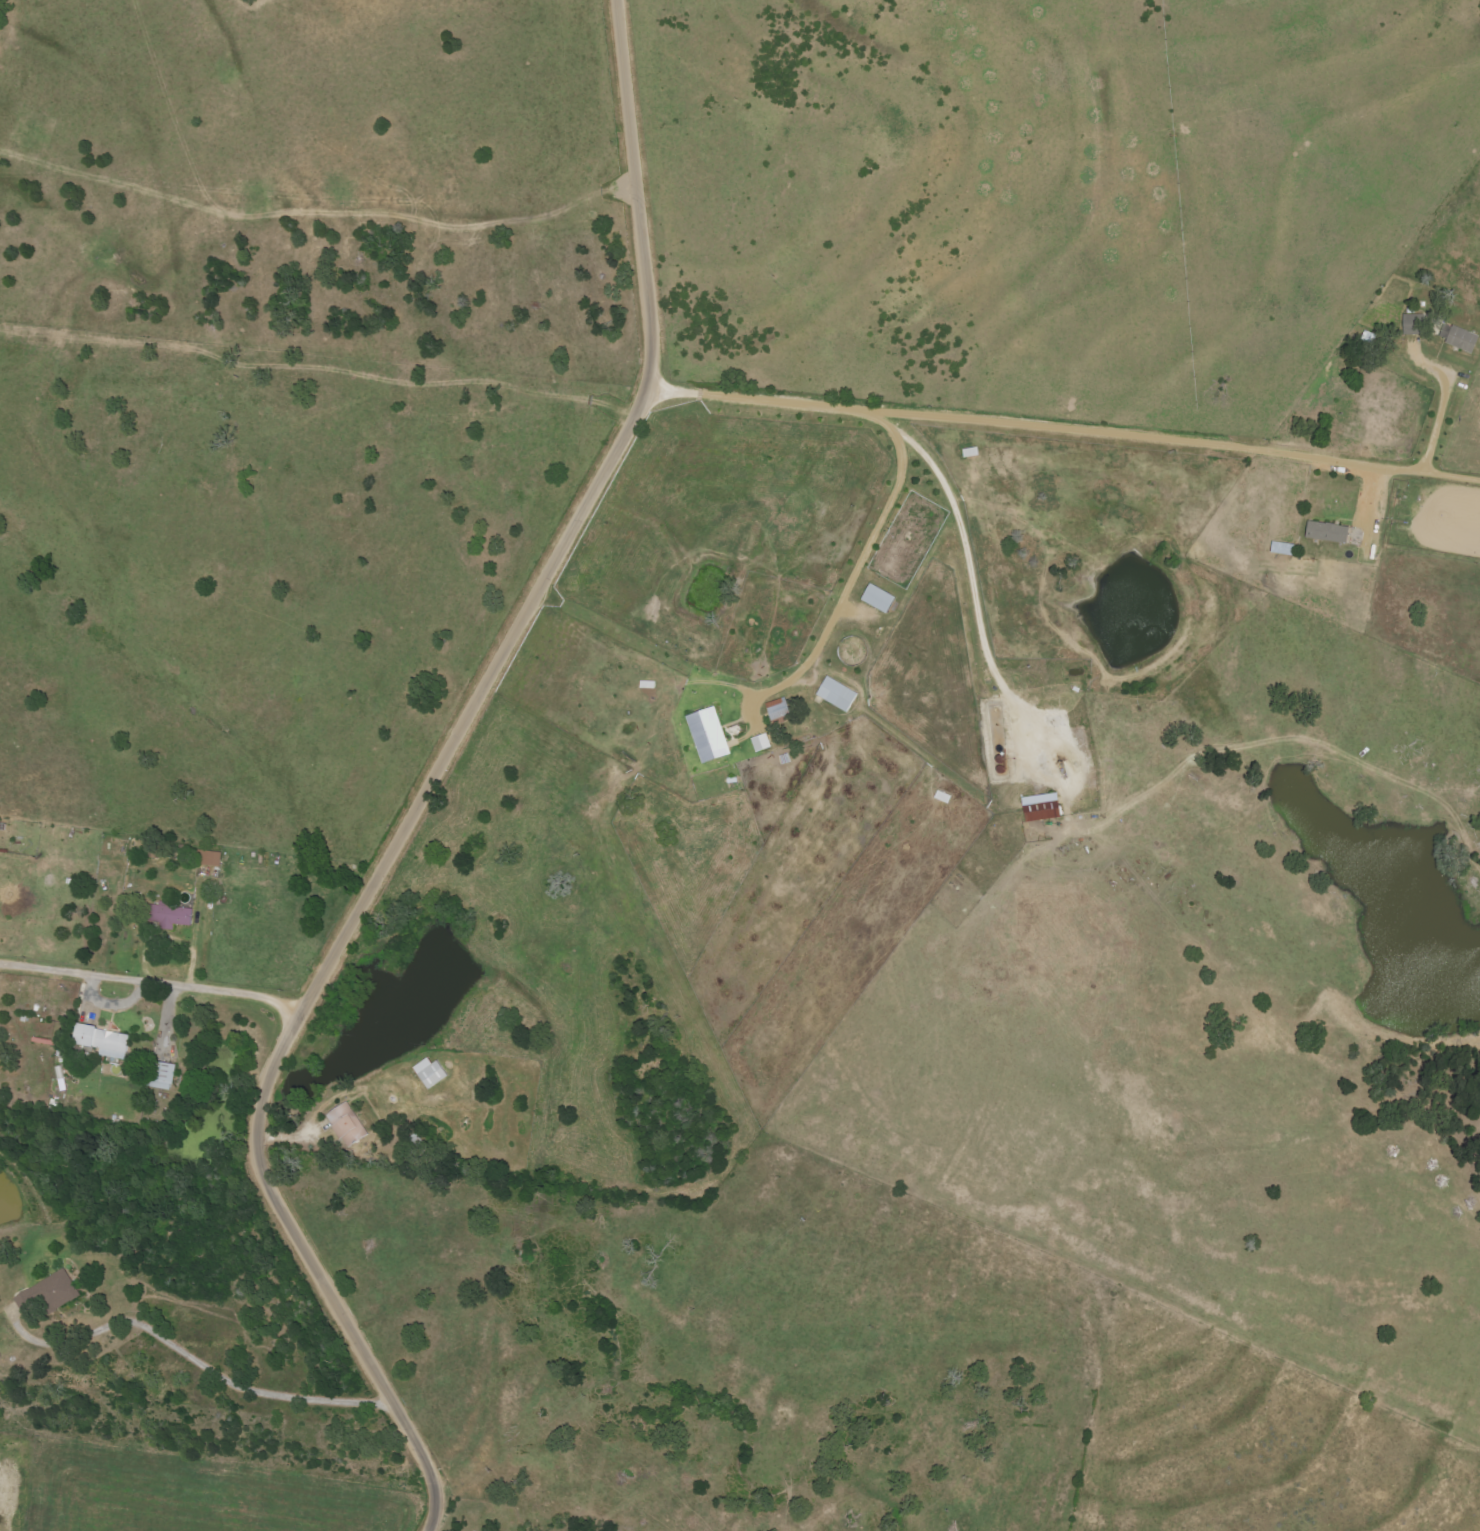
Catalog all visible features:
road: (763, 32)
building: (1412, 324)
building: (1461, 339)
road: (753, 399)
road: (1170, 439)
road: (900, 480)
building: (1326, 532)
building: (1281, 548)
road: (707, 562)
building: (878, 598)
road: (811, 660)
building: (836, 694)
building: (777, 709)
building: (707, 734)
building: (760, 742)
road: (430, 782)
building: (1040, 807)
building: (208, 858)
building: (165, 915)
road: (154, 981)
building: (102, 1041)
building: (428, 1072)
building: (159, 1075)
building: (346, 1124)
road: (360, 1216)
building: (48, 1293)
road: (198, 1362)

